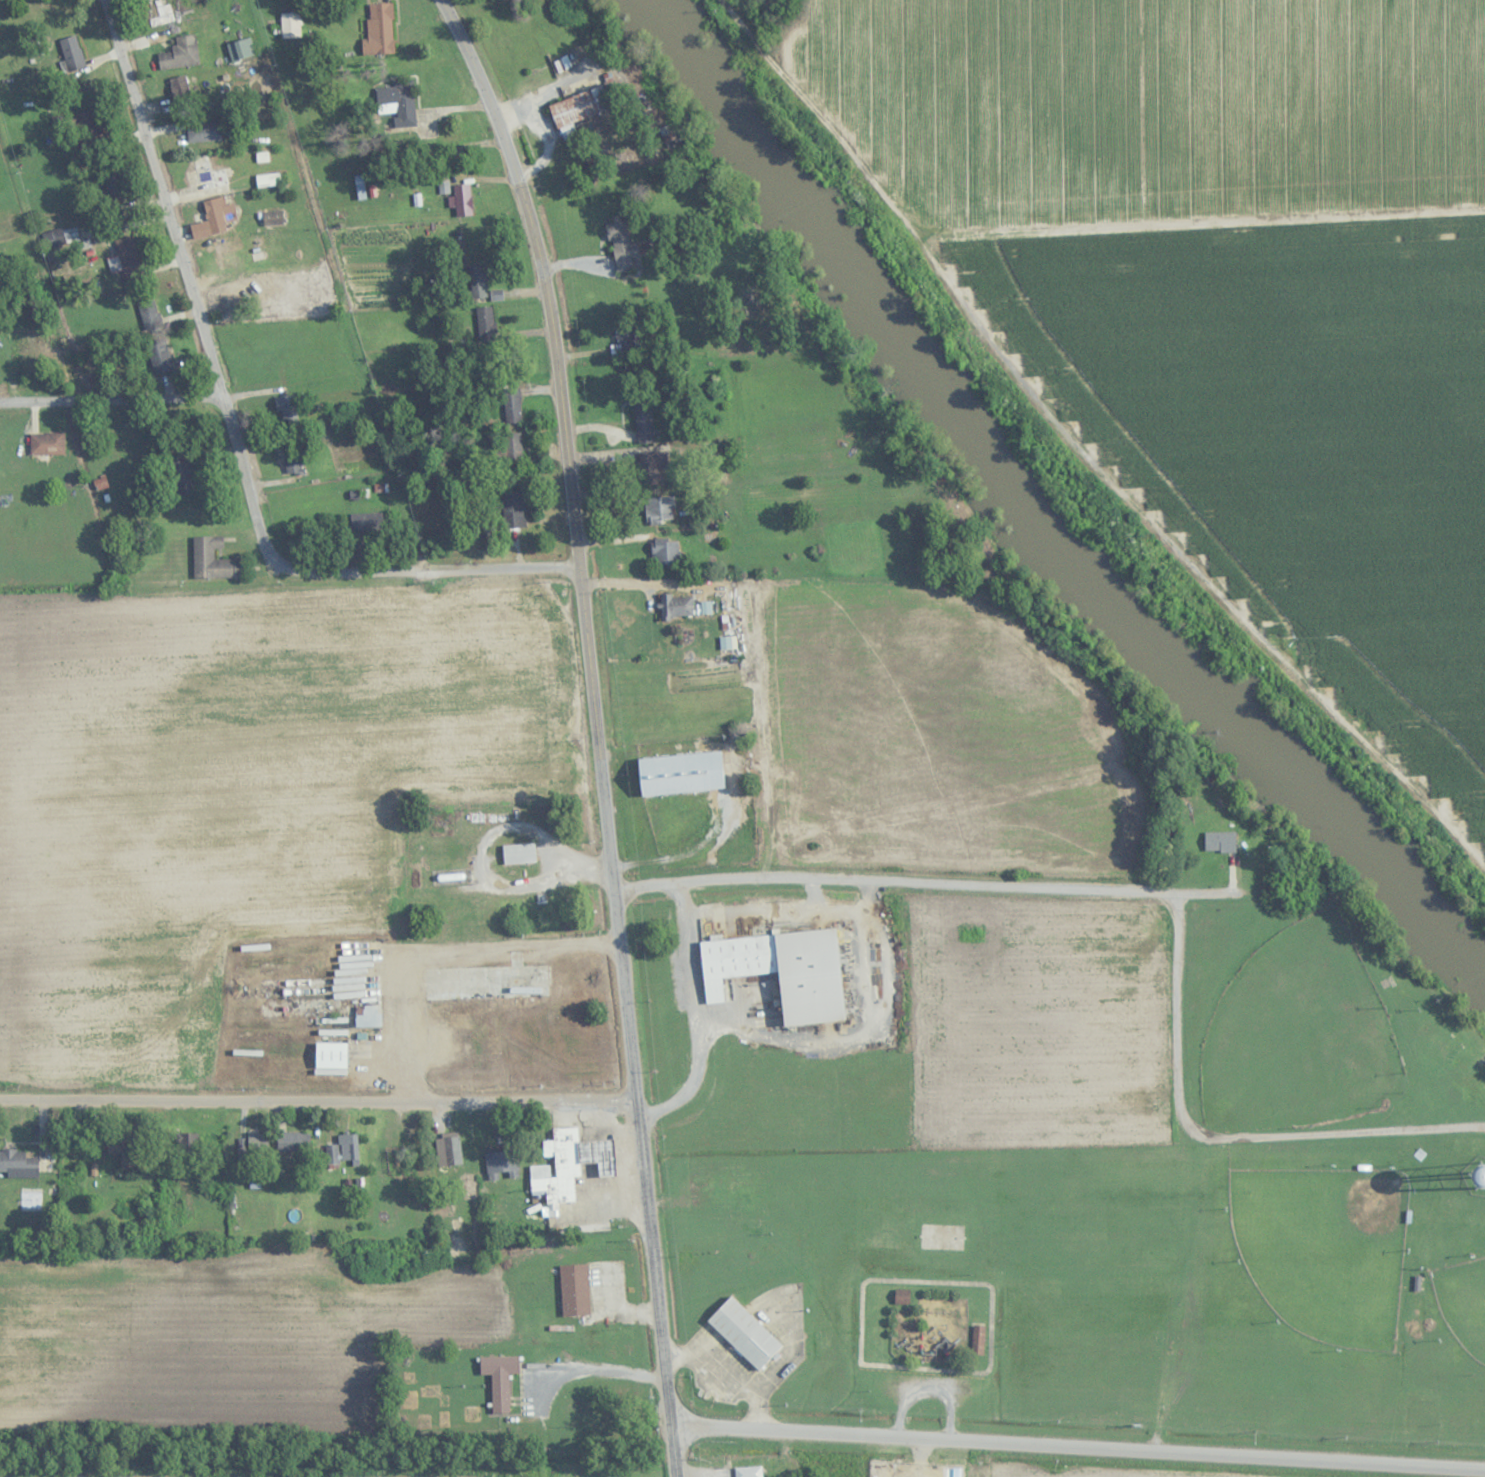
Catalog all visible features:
building: (156, 12)
building: (290, 25)
building: (380, 28)
building: (240, 48)
building: (71, 53)
building: (181, 53)
building: (180, 87)
building: (396, 97)
building: (573, 111)
building: (87, 130)
building: (204, 131)
building: (208, 174)
building: (268, 179)
building: (113, 185)
building: (463, 199)
building: (214, 217)
building: (272, 217)
building: (60, 237)
building: (622, 246)
building: (127, 257)
road: (186, 278)
building: (479, 279)
building: (149, 313)
building: (488, 323)
building: (622, 335)
building: (34, 345)
building: (160, 356)
road: (111, 399)
building: (513, 405)
building: (287, 410)
building: (643, 415)
building: (47, 443)
building: (512, 445)
road: (1083, 448)
building: (293, 462)
building: (651, 466)
building: (184, 477)
building: (513, 509)
building: (660, 509)
river: (1036, 509)
building: (366, 521)
building: (666, 551)
building: (213, 560)
road: (423, 569)
building: (677, 606)
road: (598, 729)
building: (681, 773)
building: (467, 820)
building: (1220, 841)
building: (519, 853)
road: (941, 887)
road: (443, 952)
building: (782, 968)
building: (367, 1016)
building: (331, 1055)
road: (317, 1103)
building: (258, 1141)
building: (293, 1141)
building: (125, 1148)
building: (343, 1150)
building: (448, 1150)
building: (396, 1159)
building: (573, 1162)
building: (17, 1163)
building: (502, 1164)
building: (1481, 1177)
building: (776, 1190)
building: (742, 1203)
building: (575, 1289)
building: (902, 1296)
building: (749, 1329)
building: (978, 1340)
building: (500, 1379)
road: (1078, 1448)
building: (748, 1471)

